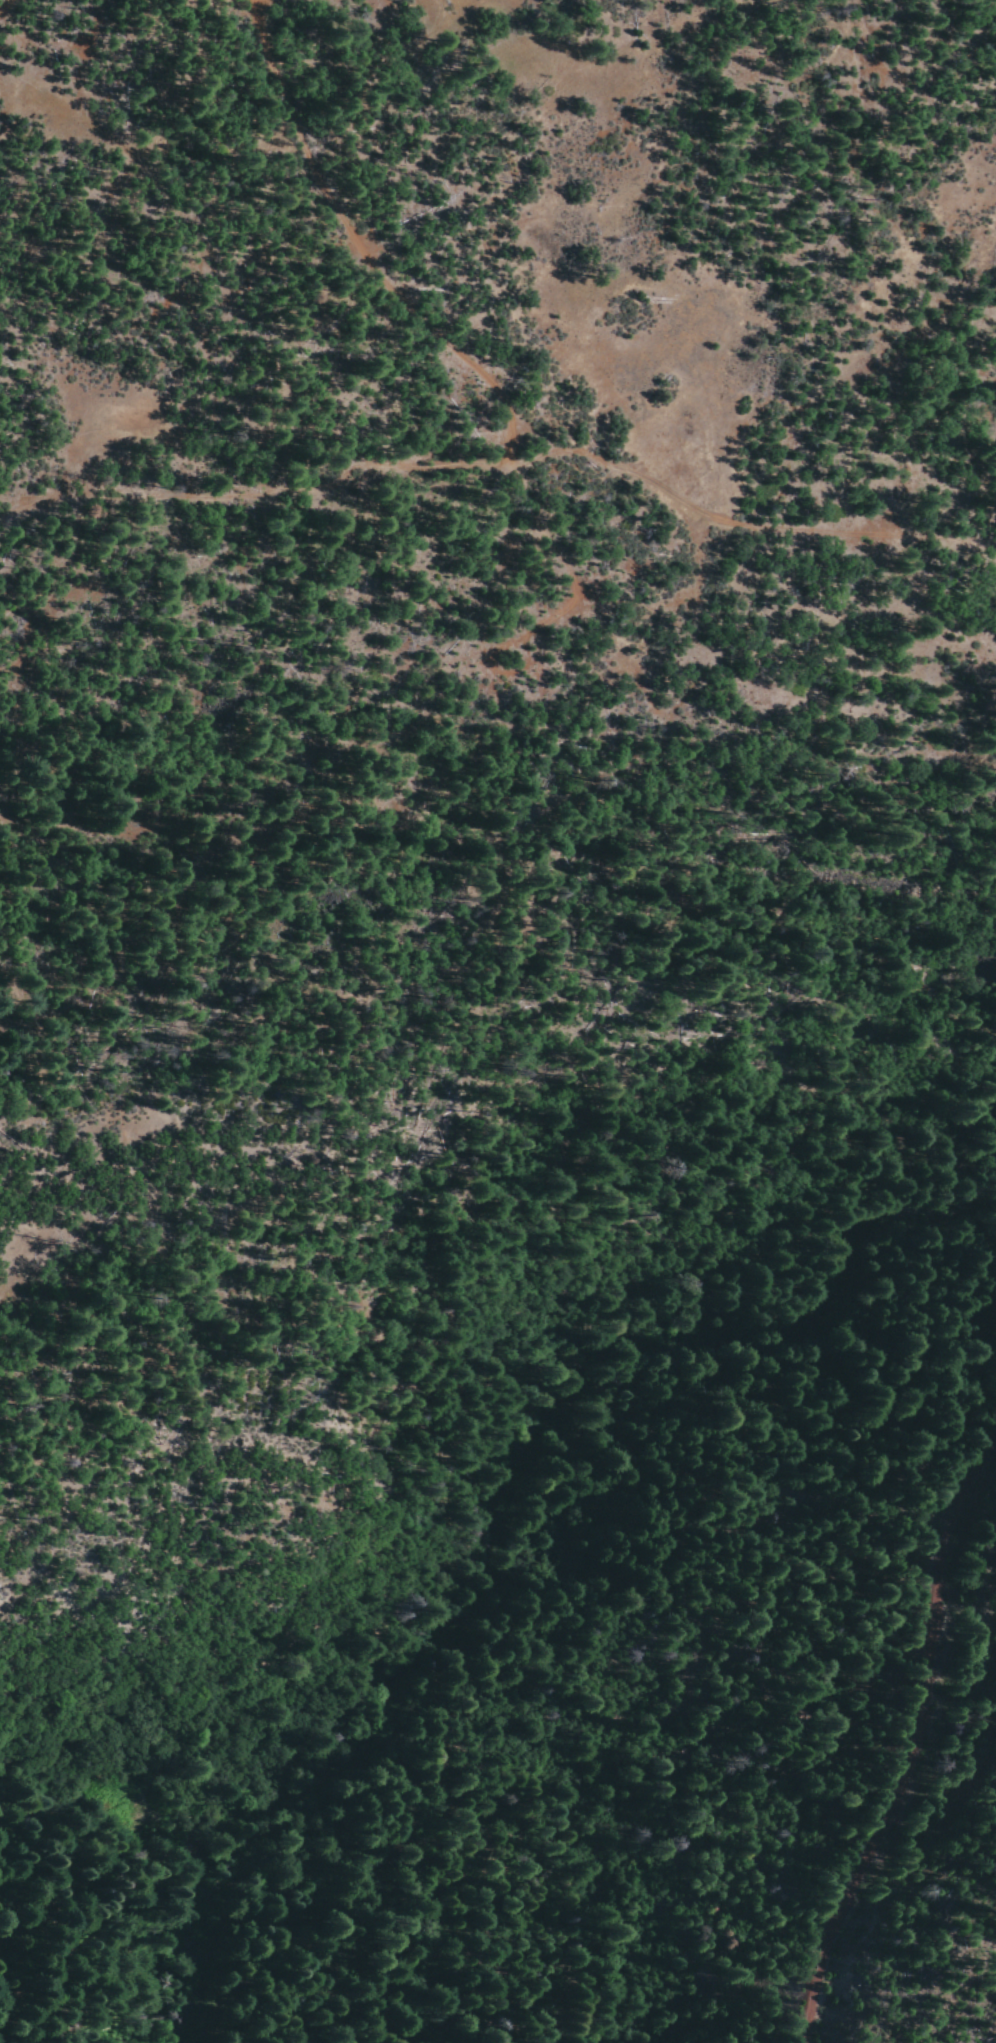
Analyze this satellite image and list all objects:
road: (246, 512)

